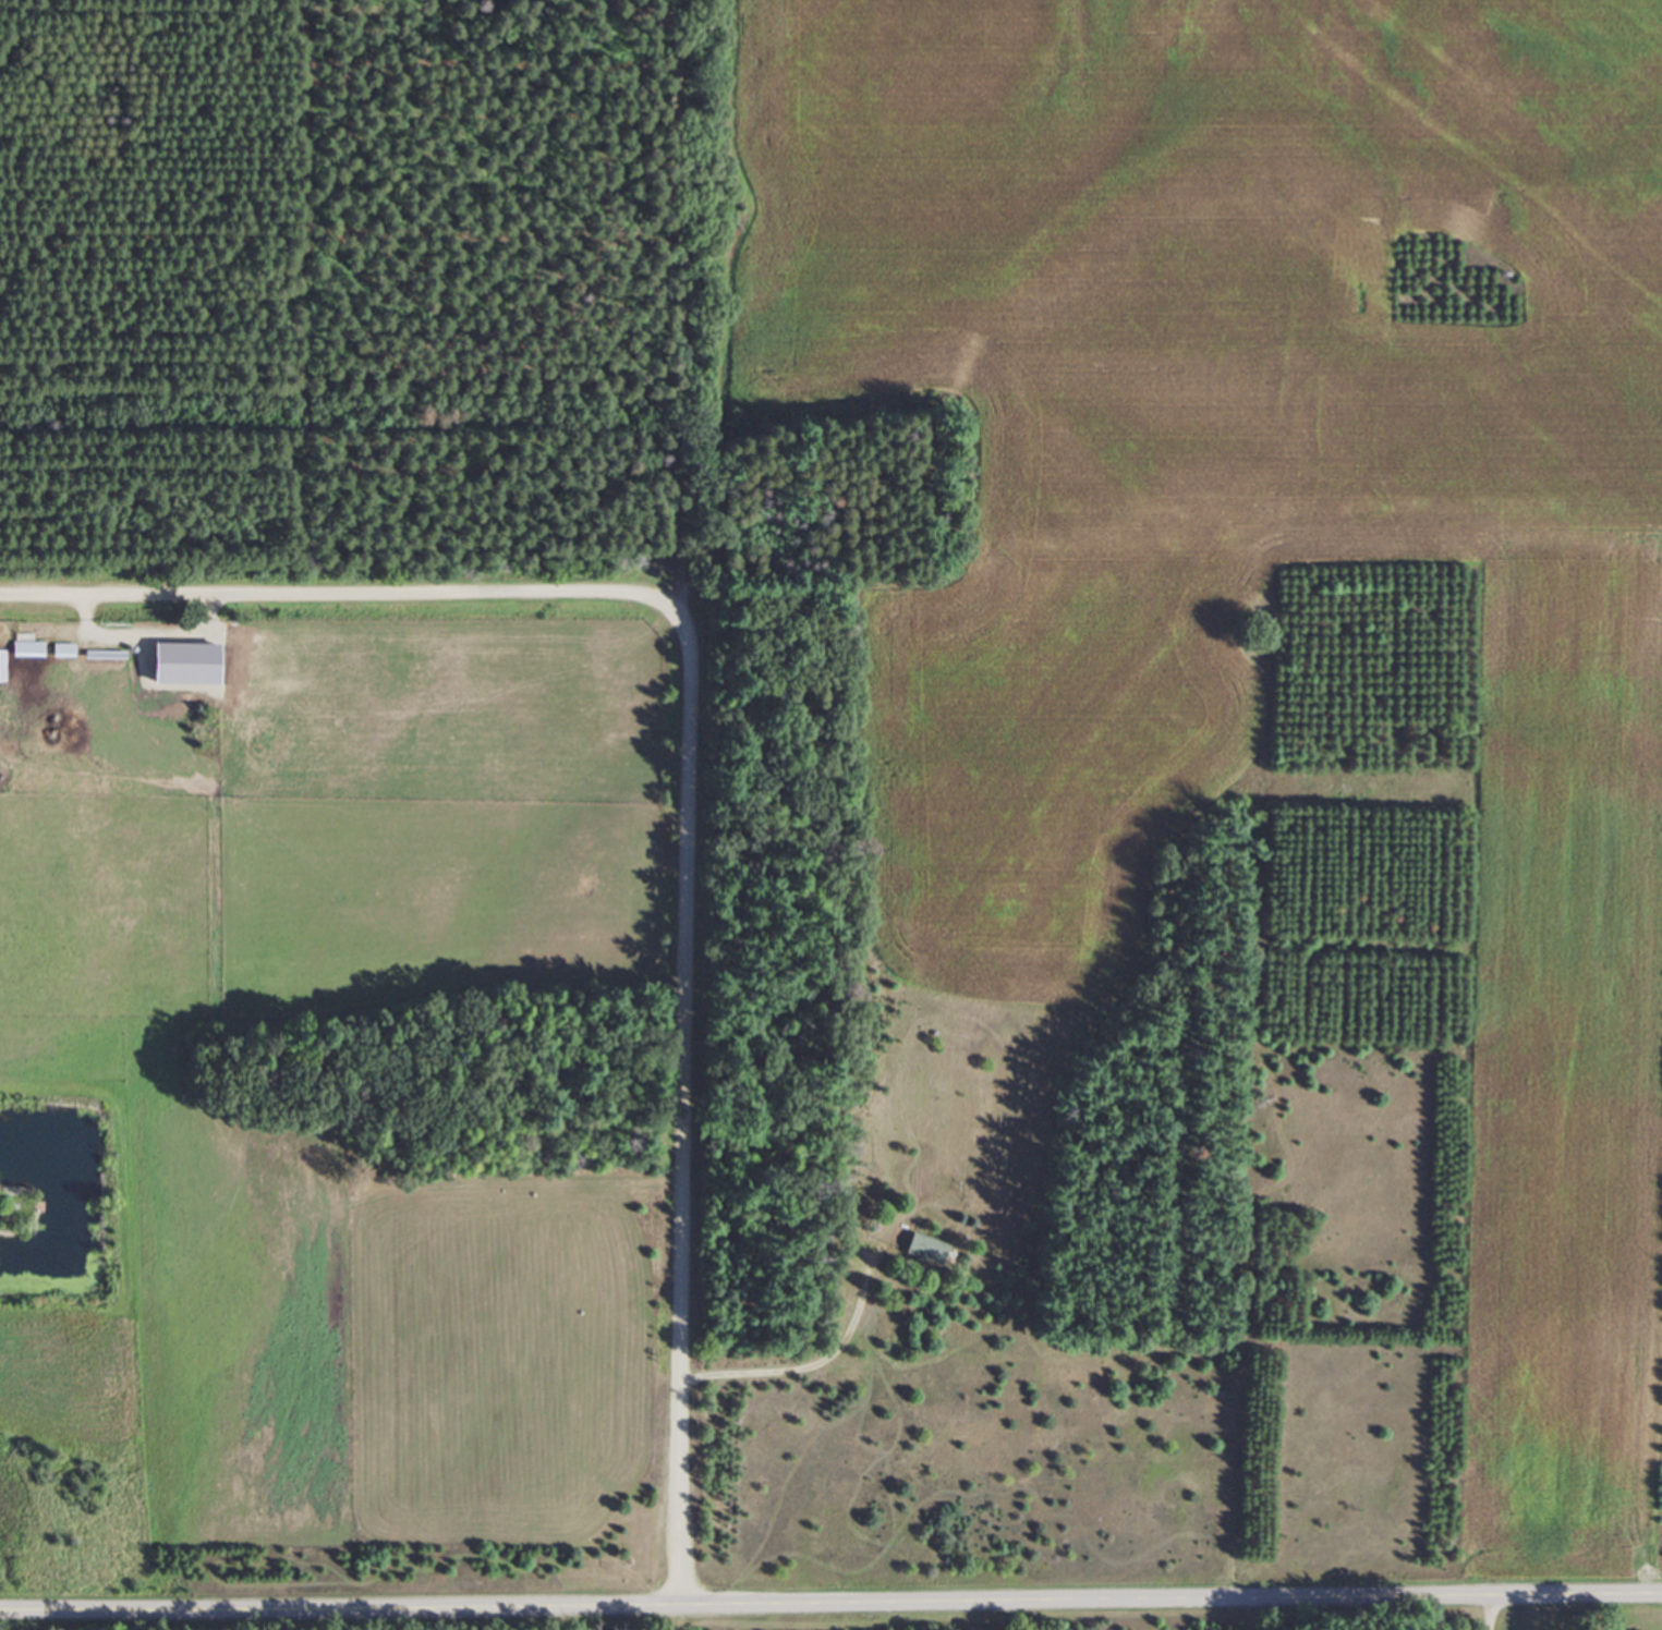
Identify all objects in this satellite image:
road: (336, 595)
building: (29, 648)
building: (65, 649)
building: (3, 665)
road: (700, 1103)
road: (254, 1108)
building: (929, 1249)
road: (811, 1359)
road: (830, 1614)

